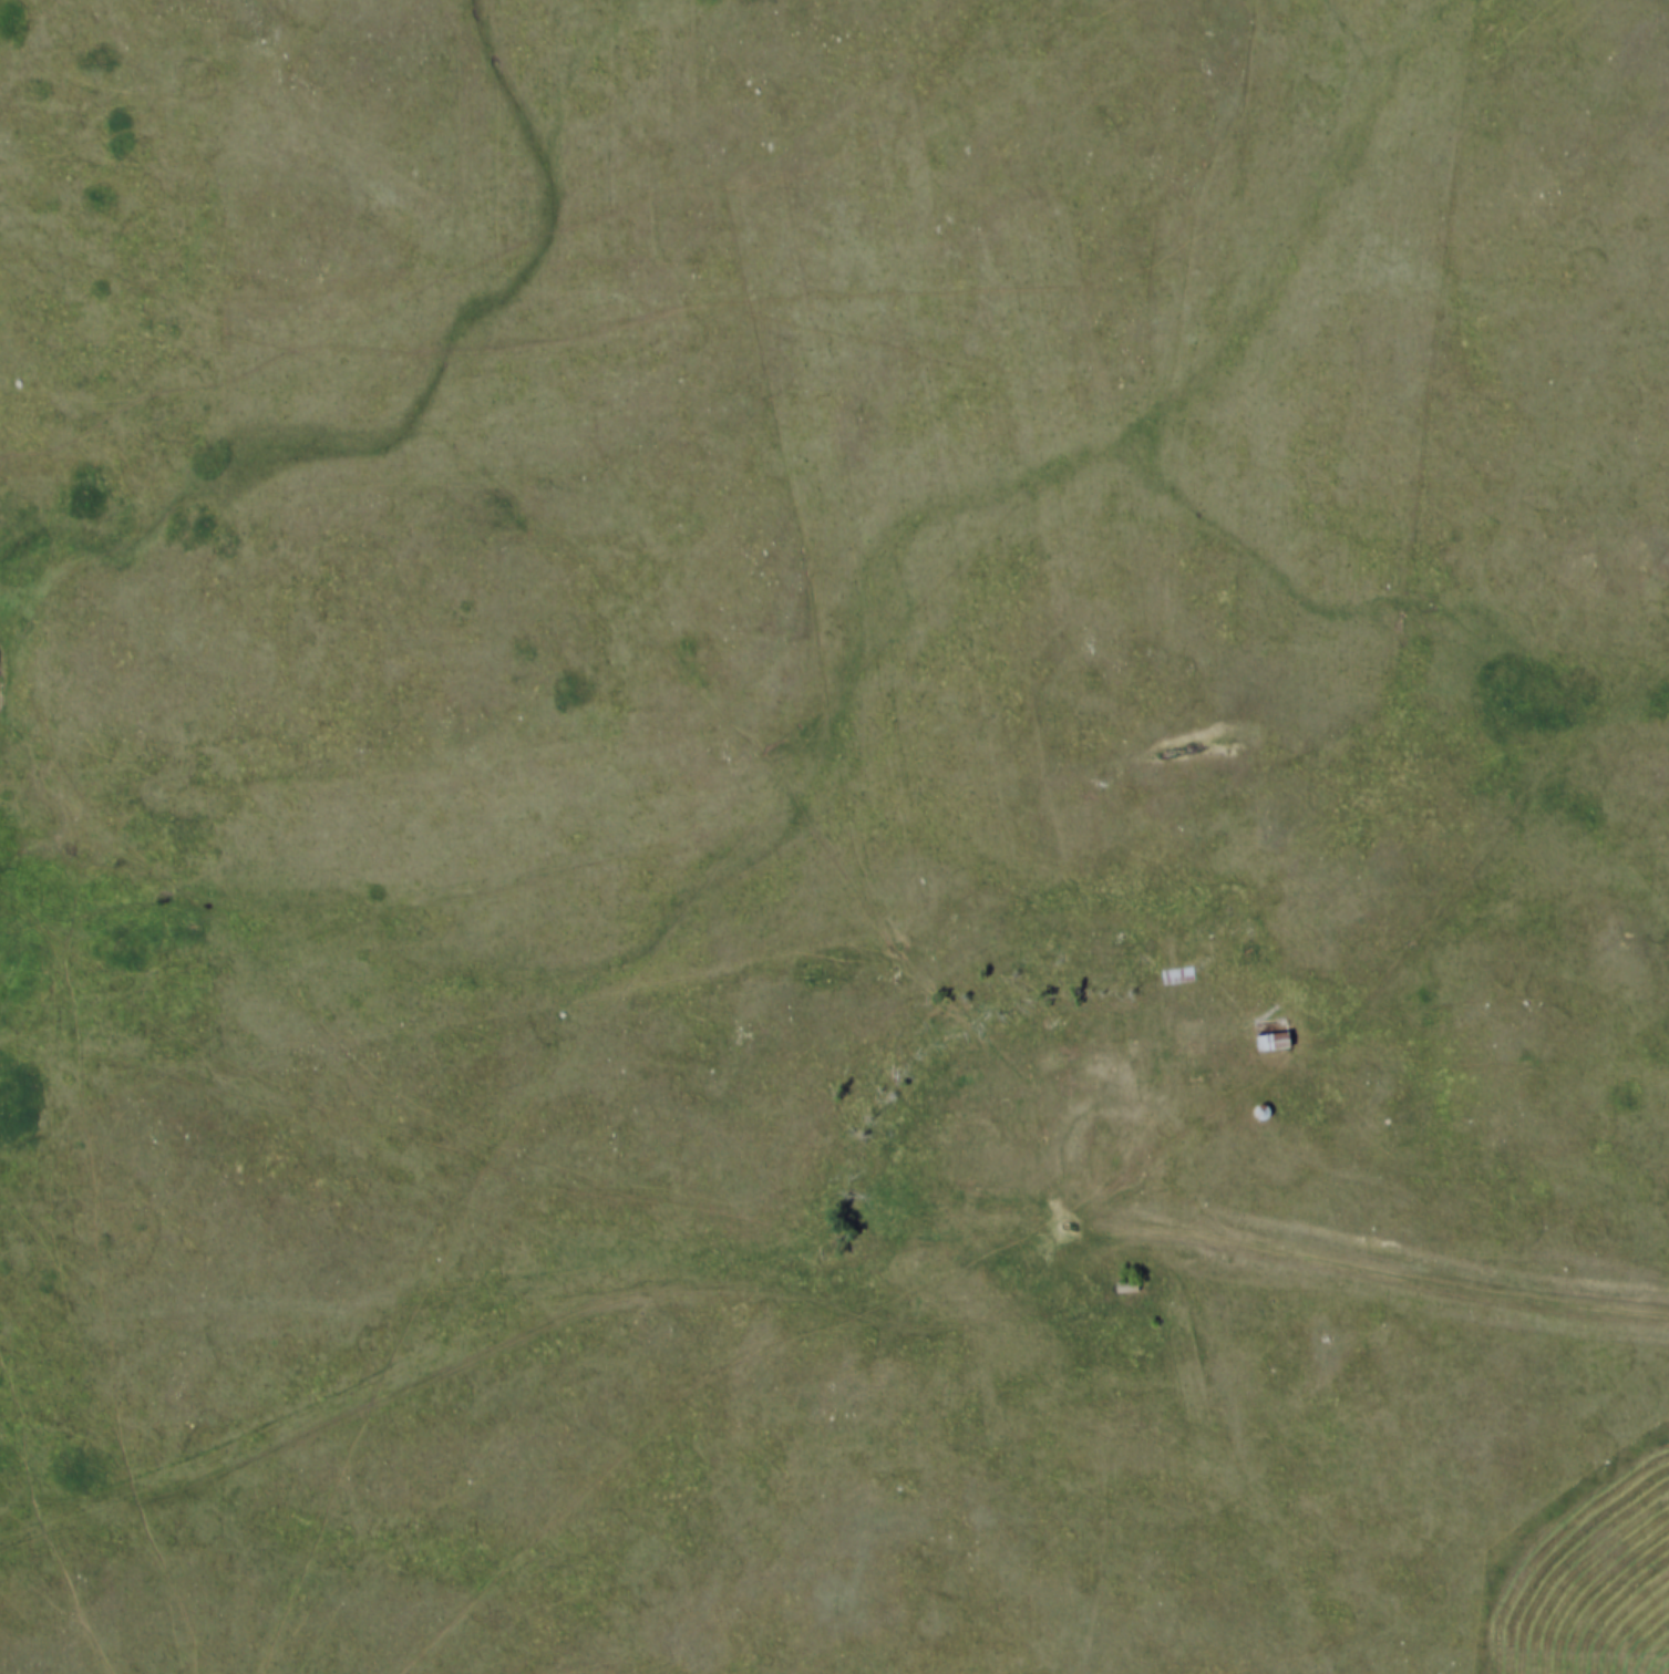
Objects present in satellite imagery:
building: (1268, 1034)
road: (1436, 1280)

